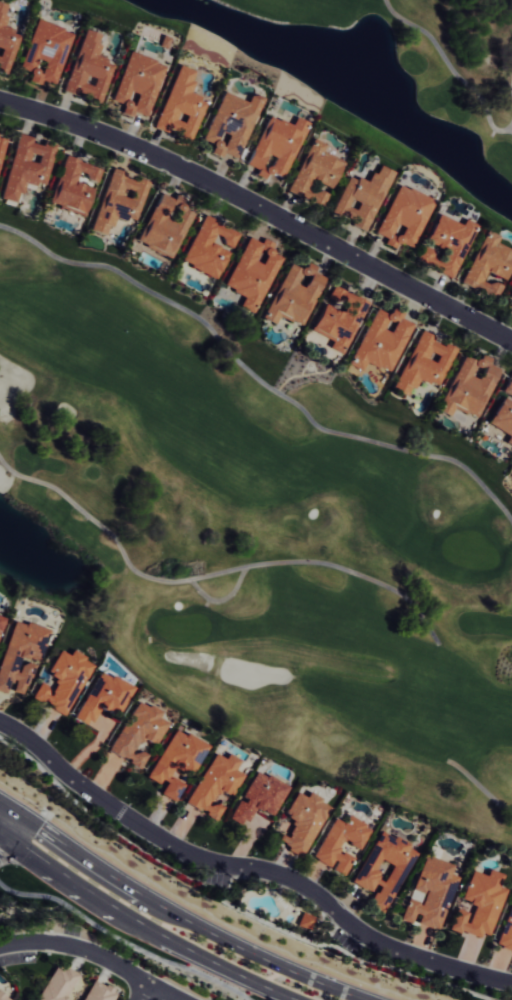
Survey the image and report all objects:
building: (0, 21)
building: (5, 47)
building: (42, 53)
park: (380, 68)
building: (86, 69)
building: (136, 84)
building: (178, 106)
building: (228, 124)
building: (0, 142)
building: (273, 147)
building: (25, 166)
building: (312, 173)
building: (71, 186)
building: (359, 198)
building: (117, 201)
road: (260, 210)
building: (402, 217)
building: (163, 226)
building: (445, 244)
building: (207, 247)
building: (487, 265)
building: (251, 273)
building: (293, 294)
building: (510, 296)
building: (339, 319)
building: (380, 340)
building: (422, 363)
building: (467, 386)
building: (511, 391)
building: (502, 420)
park: (257, 539)
building: (1, 618)
building: (20, 654)
building: (62, 681)
building: (102, 697)
building: (136, 732)
building: (174, 762)
building: (213, 783)
building: (257, 797)
road: (4, 811)
building: (302, 821)
building: (340, 843)
road: (248, 867)
building: (384, 869)
building: (430, 893)
building: (479, 903)
road: (175, 913)
building: (305, 921)
road: (143, 926)
building: (506, 932)
road: (94, 954)
building: (57, 984)
building: (97, 991)
road: (142, 992)
building: (2, 997)

